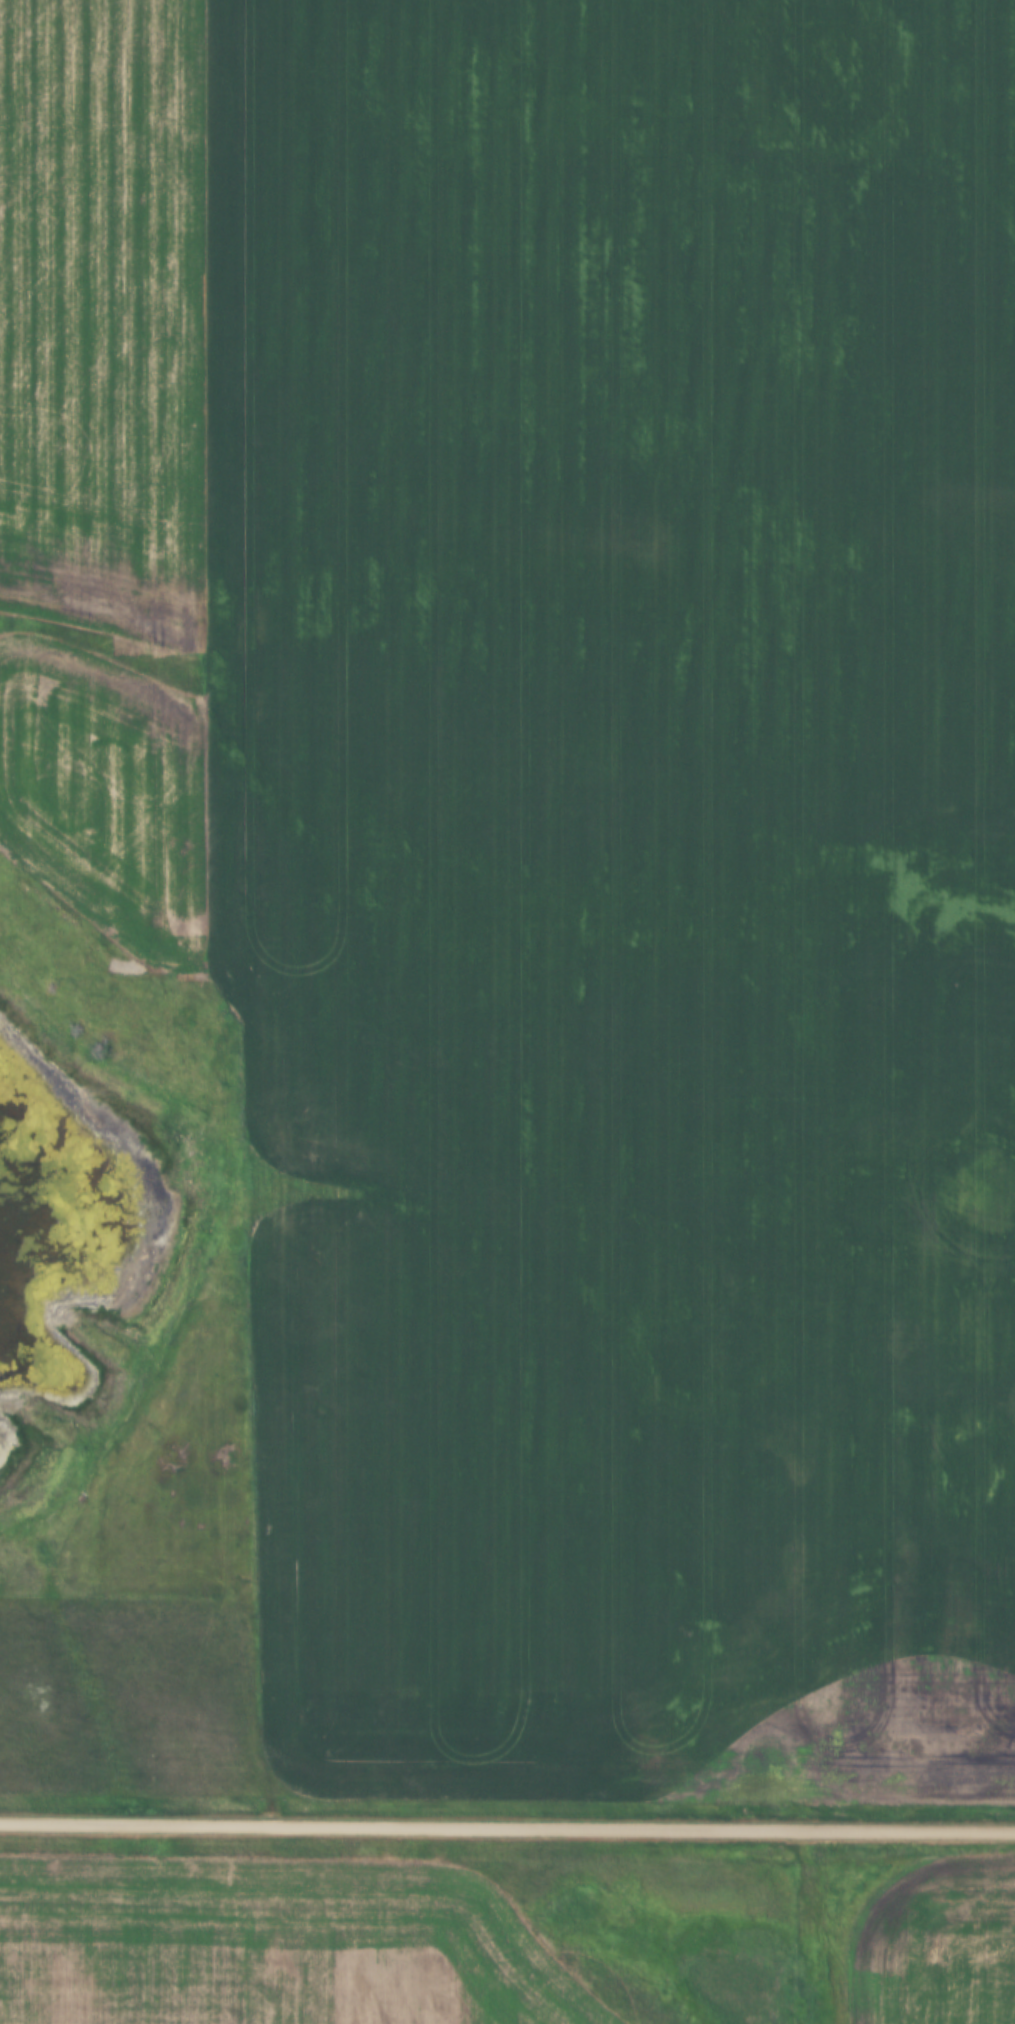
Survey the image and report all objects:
road: (507, 1825)
road: (821, 1926)

